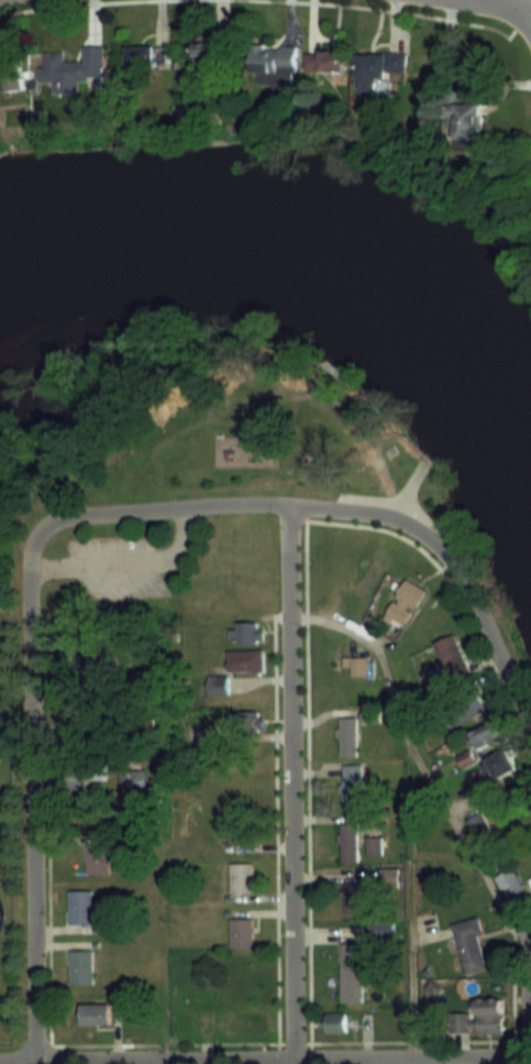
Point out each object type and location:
road: (69, 4)
road: (499, 4)
road: (394, 11)
road: (511, 19)
building: (212, 58)
building: (147, 59)
building: (324, 62)
building: (275, 63)
building: (74, 68)
building: (377, 70)
building: (468, 123)
park: (497, 199)
river: (310, 233)
park: (226, 425)
road: (343, 507)
road: (126, 562)
parking lot: (113, 566)
building: (405, 602)
road: (303, 611)
building: (246, 632)
building: (450, 655)
building: (246, 659)
building: (89, 665)
building: (357, 666)
building: (219, 684)
building: (468, 705)
building: (93, 717)
building: (245, 721)
building: (486, 733)
building: (347, 736)
road: (414, 759)
building: (502, 763)
building: (86, 774)
building: (133, 779)
road: (289, 782)
building: (353, 786)
wastewater plant: (10, 790)
road: (29, 796)
road: (273, 840)
building: (349, 842)
building: (373, 844)
building: (99, 855)
building: (241, 876)
building: (511, 885)
building: (356, 897)
building: (81, 906)
road: (413, 909)
building: (381, 929)
building: (242, 931)
building: (472, 944)
road: (46, 951)
building: (81, 965)
building: (352, 972)
road: (510, 997)
road: (530, 1002)
building: (96, 1013)
building: (336, 1021)
building: (478, 1021)
road: (279, 1042)
road: (265, 1060)
road: (167, 1062)

